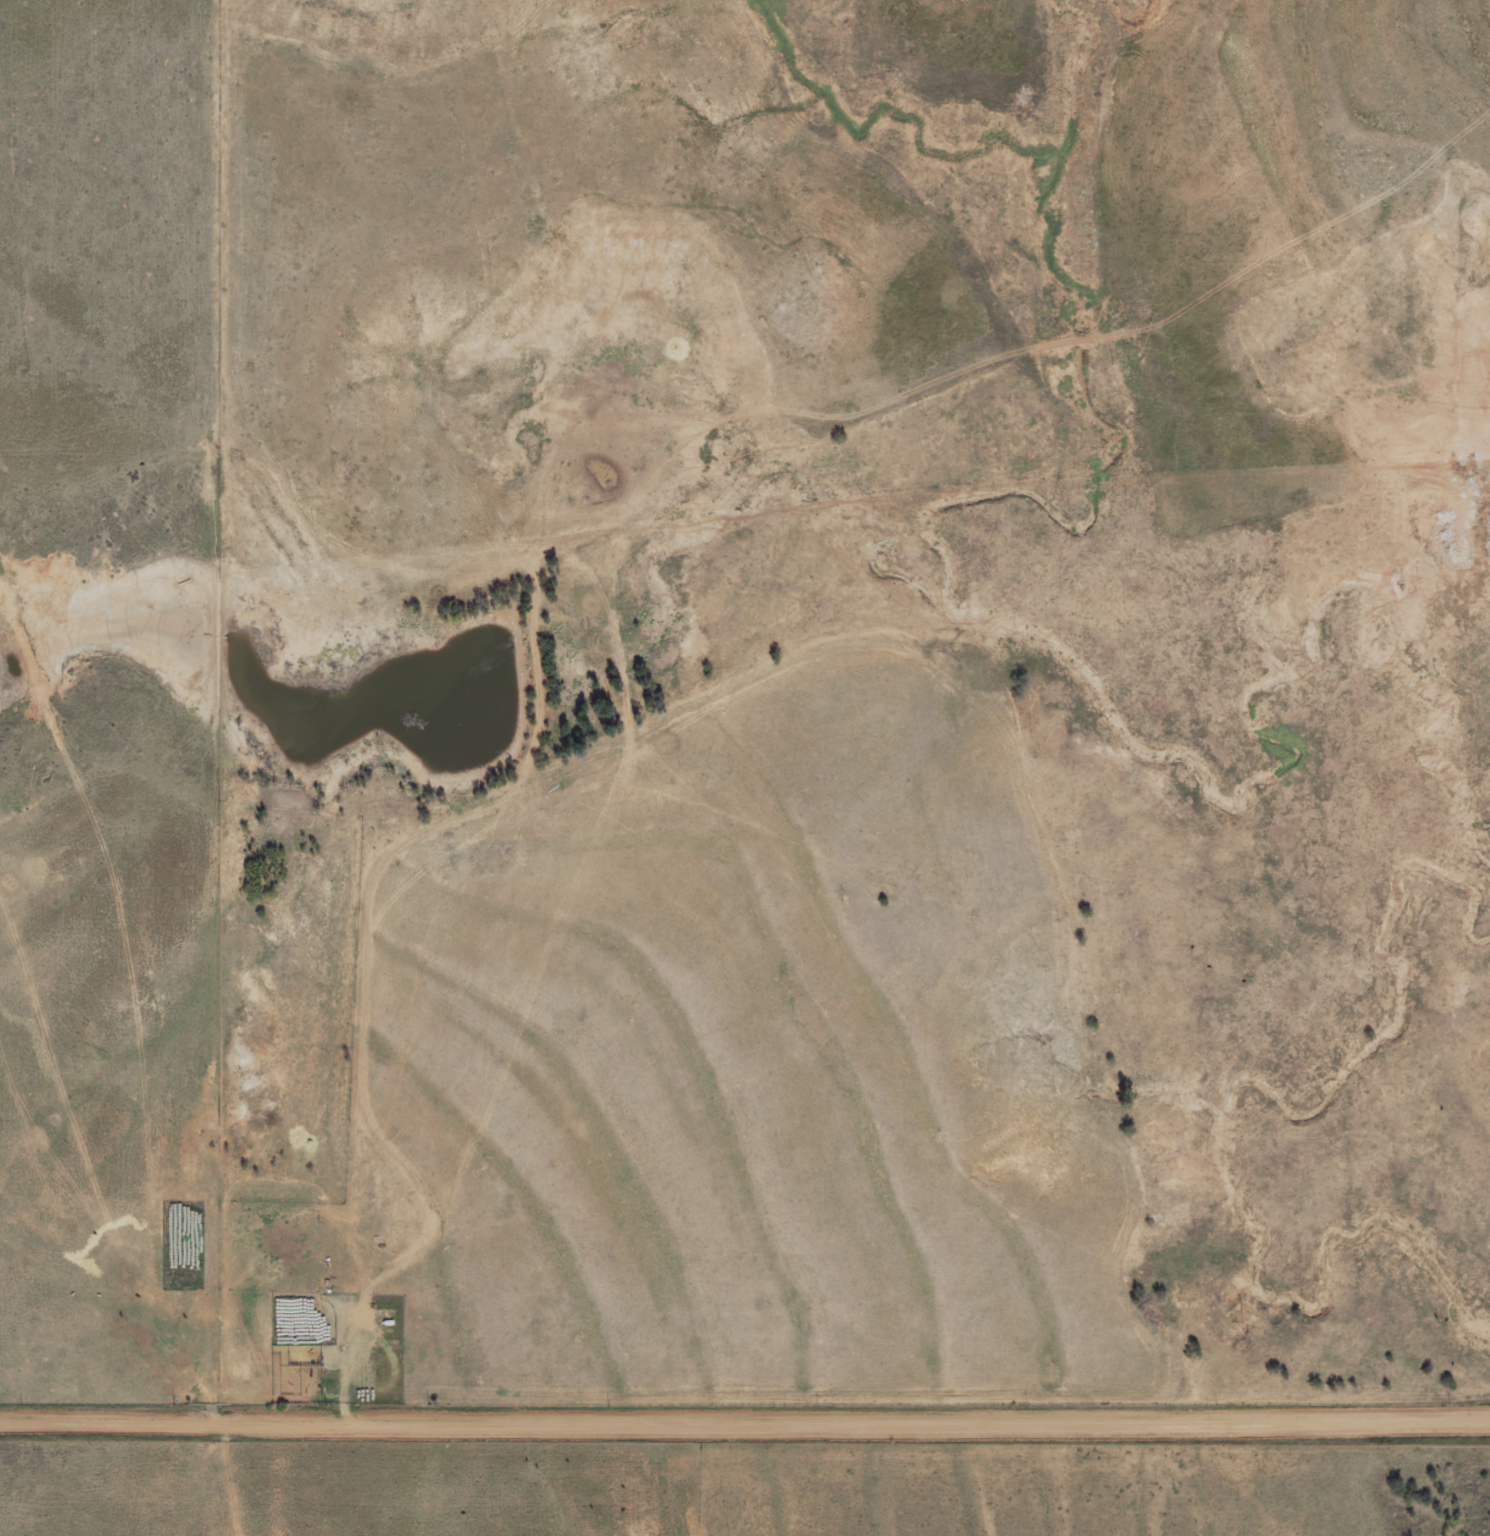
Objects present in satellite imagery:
road: (745, 1423)

